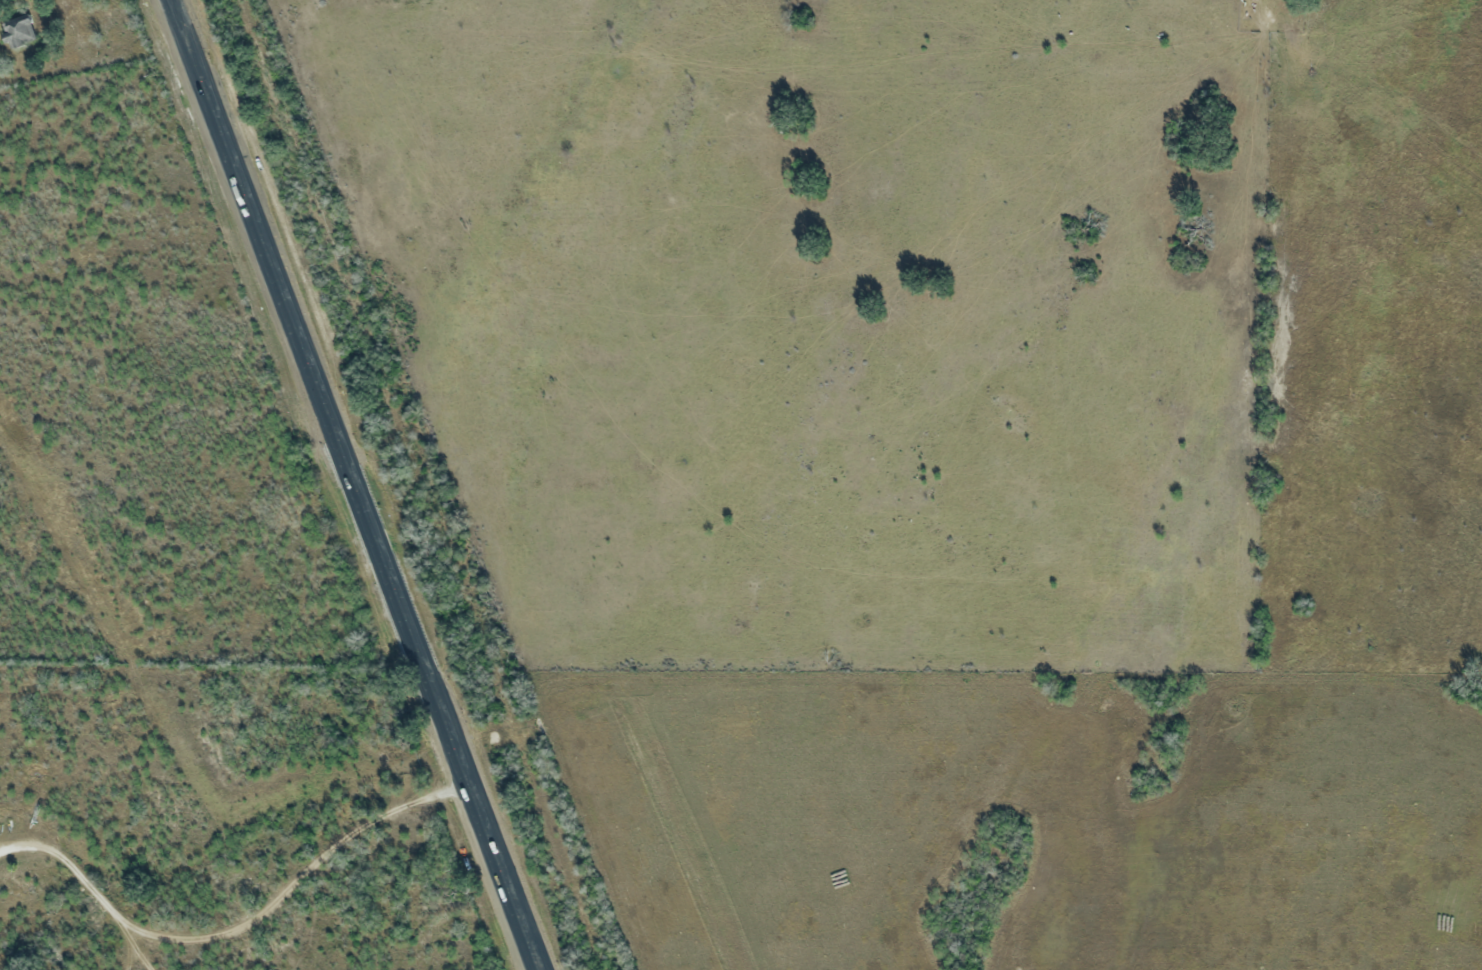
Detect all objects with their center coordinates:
building: (19, 31)
road: (361, 484)

